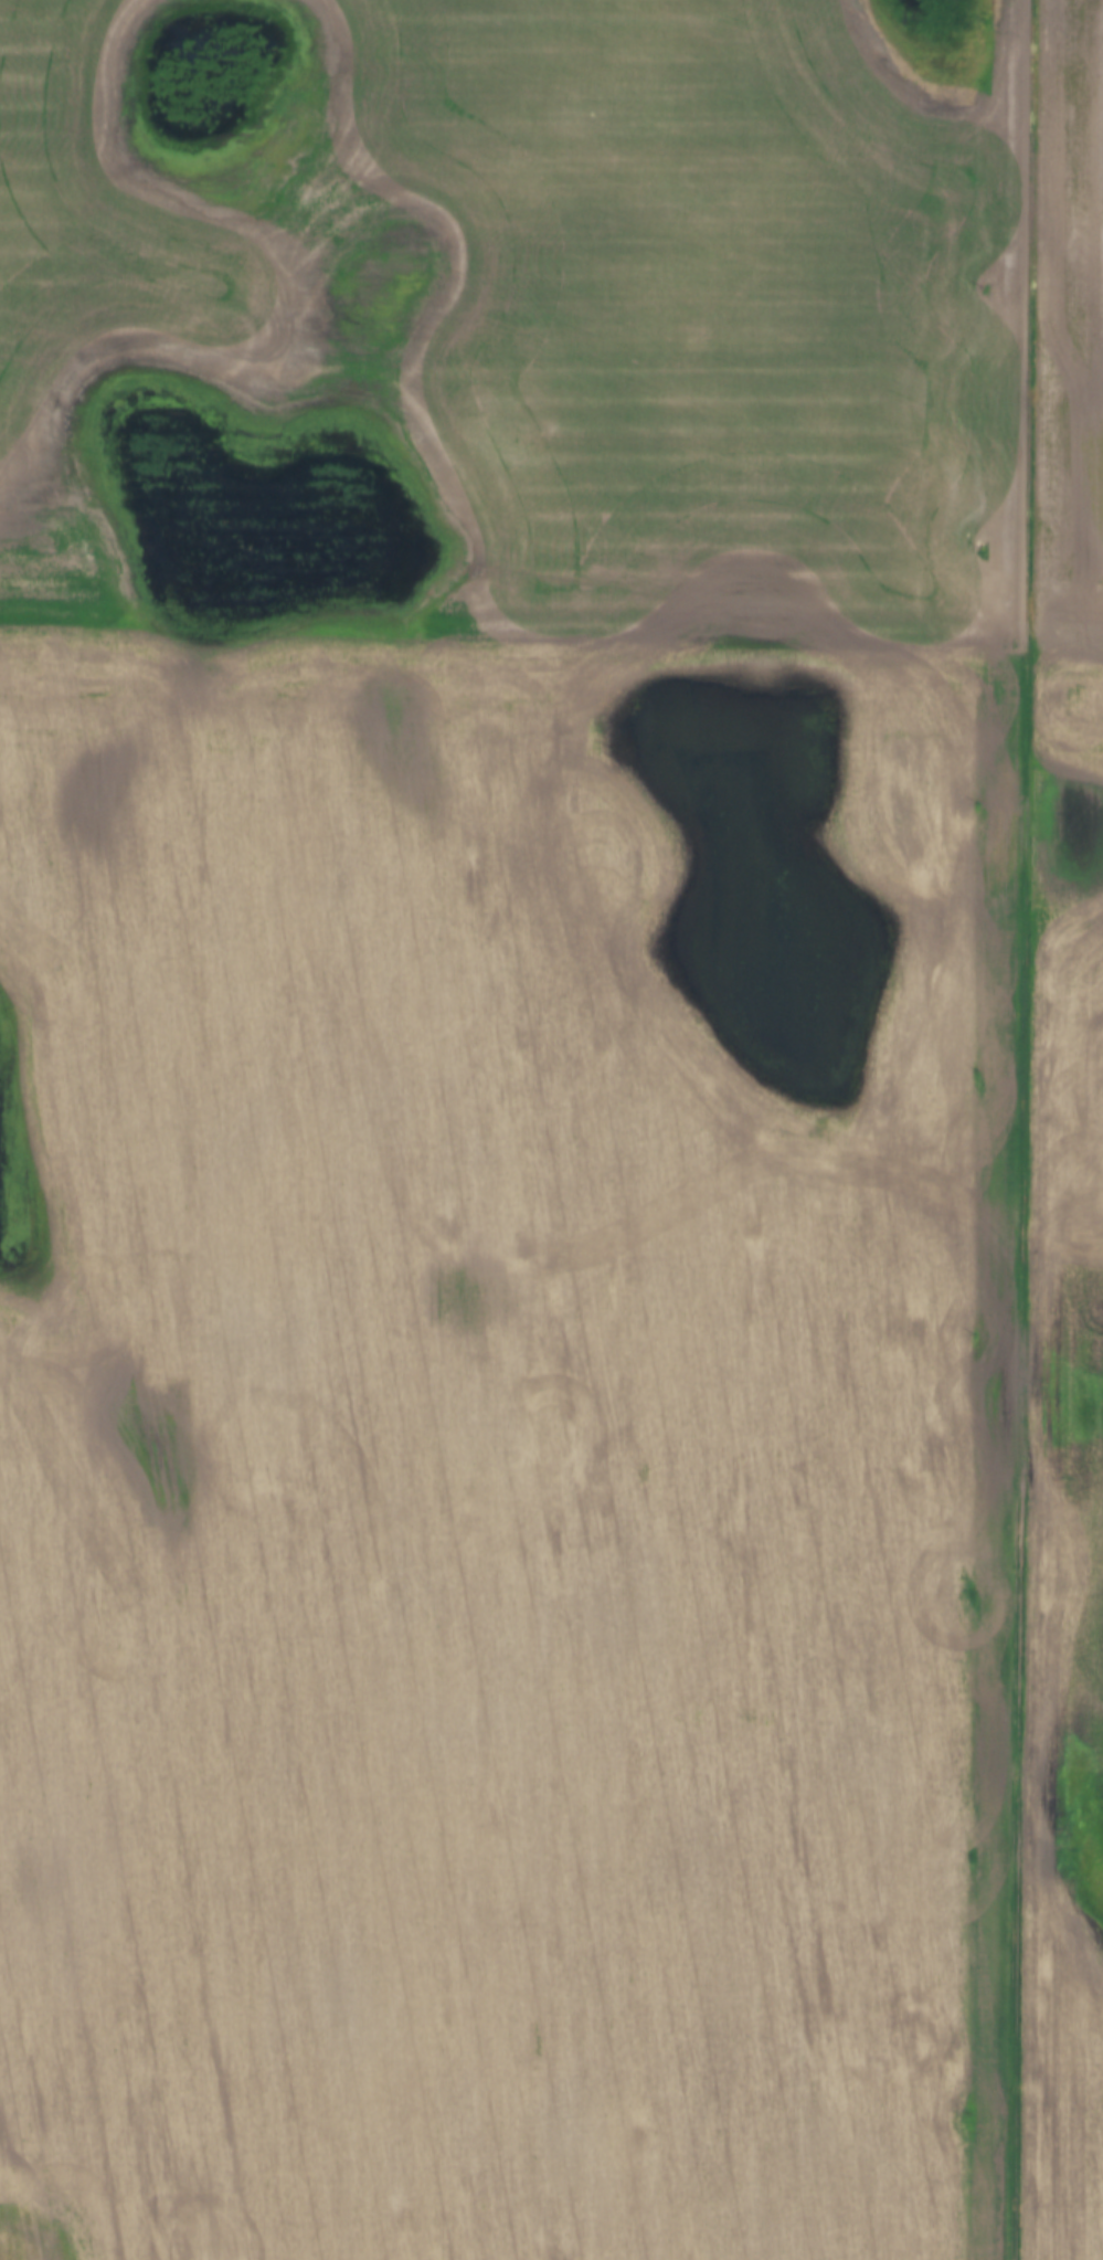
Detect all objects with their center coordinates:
road: (1035, 1130)

